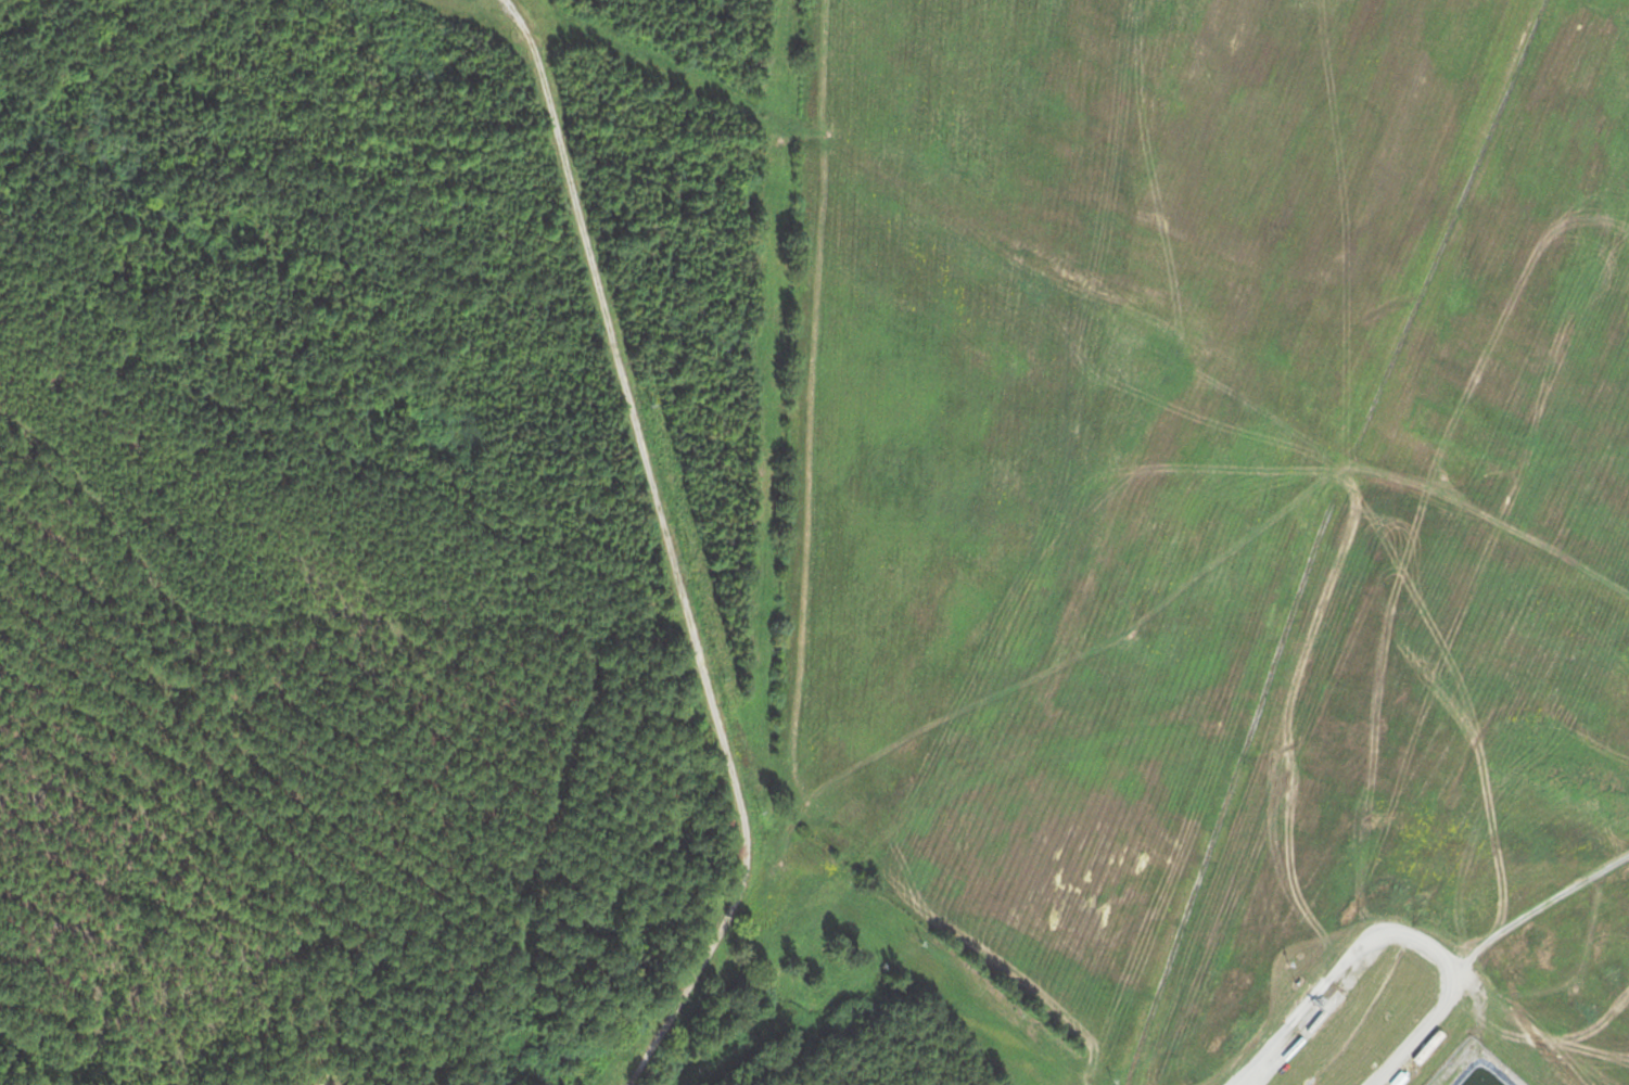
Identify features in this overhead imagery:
road: (666, 549)

